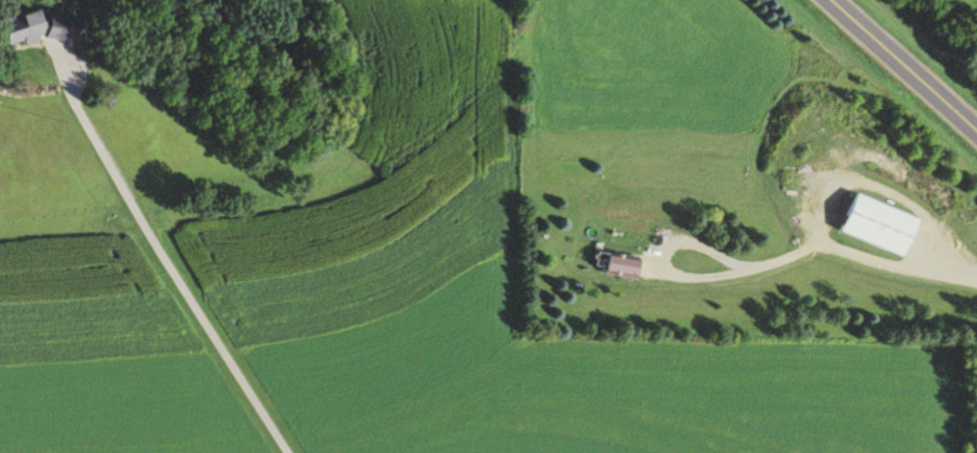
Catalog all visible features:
building: (44, 29)
road: (905, 64)
road: (881, 188)
building: (884, 225)
road: (858, 254)
road: (661, 256)
building: (626, 266)
road: (181, 280)

